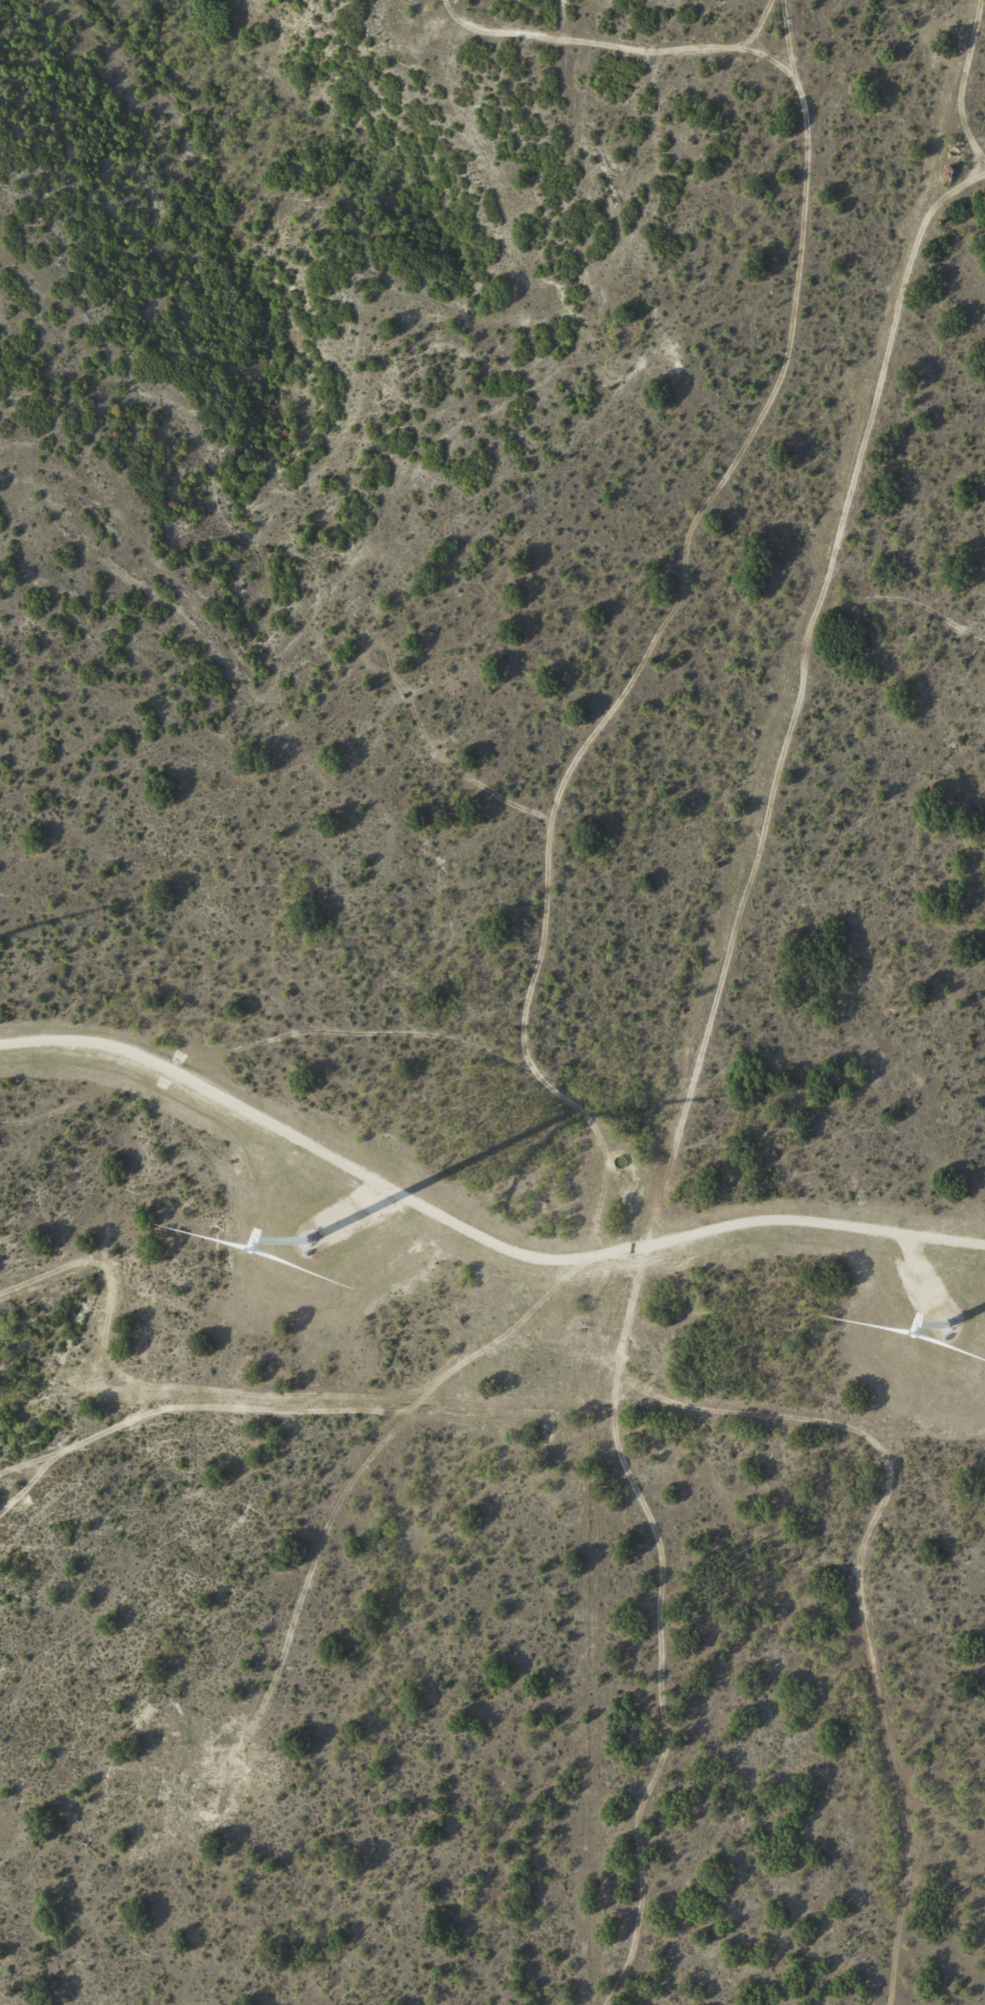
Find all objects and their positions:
road: (977, 41)
road: (980, 155)
road: (879, 448)
road: (902, 1187)
wind turbine: (307, 1242)
wind turbine: (947, 1326)

